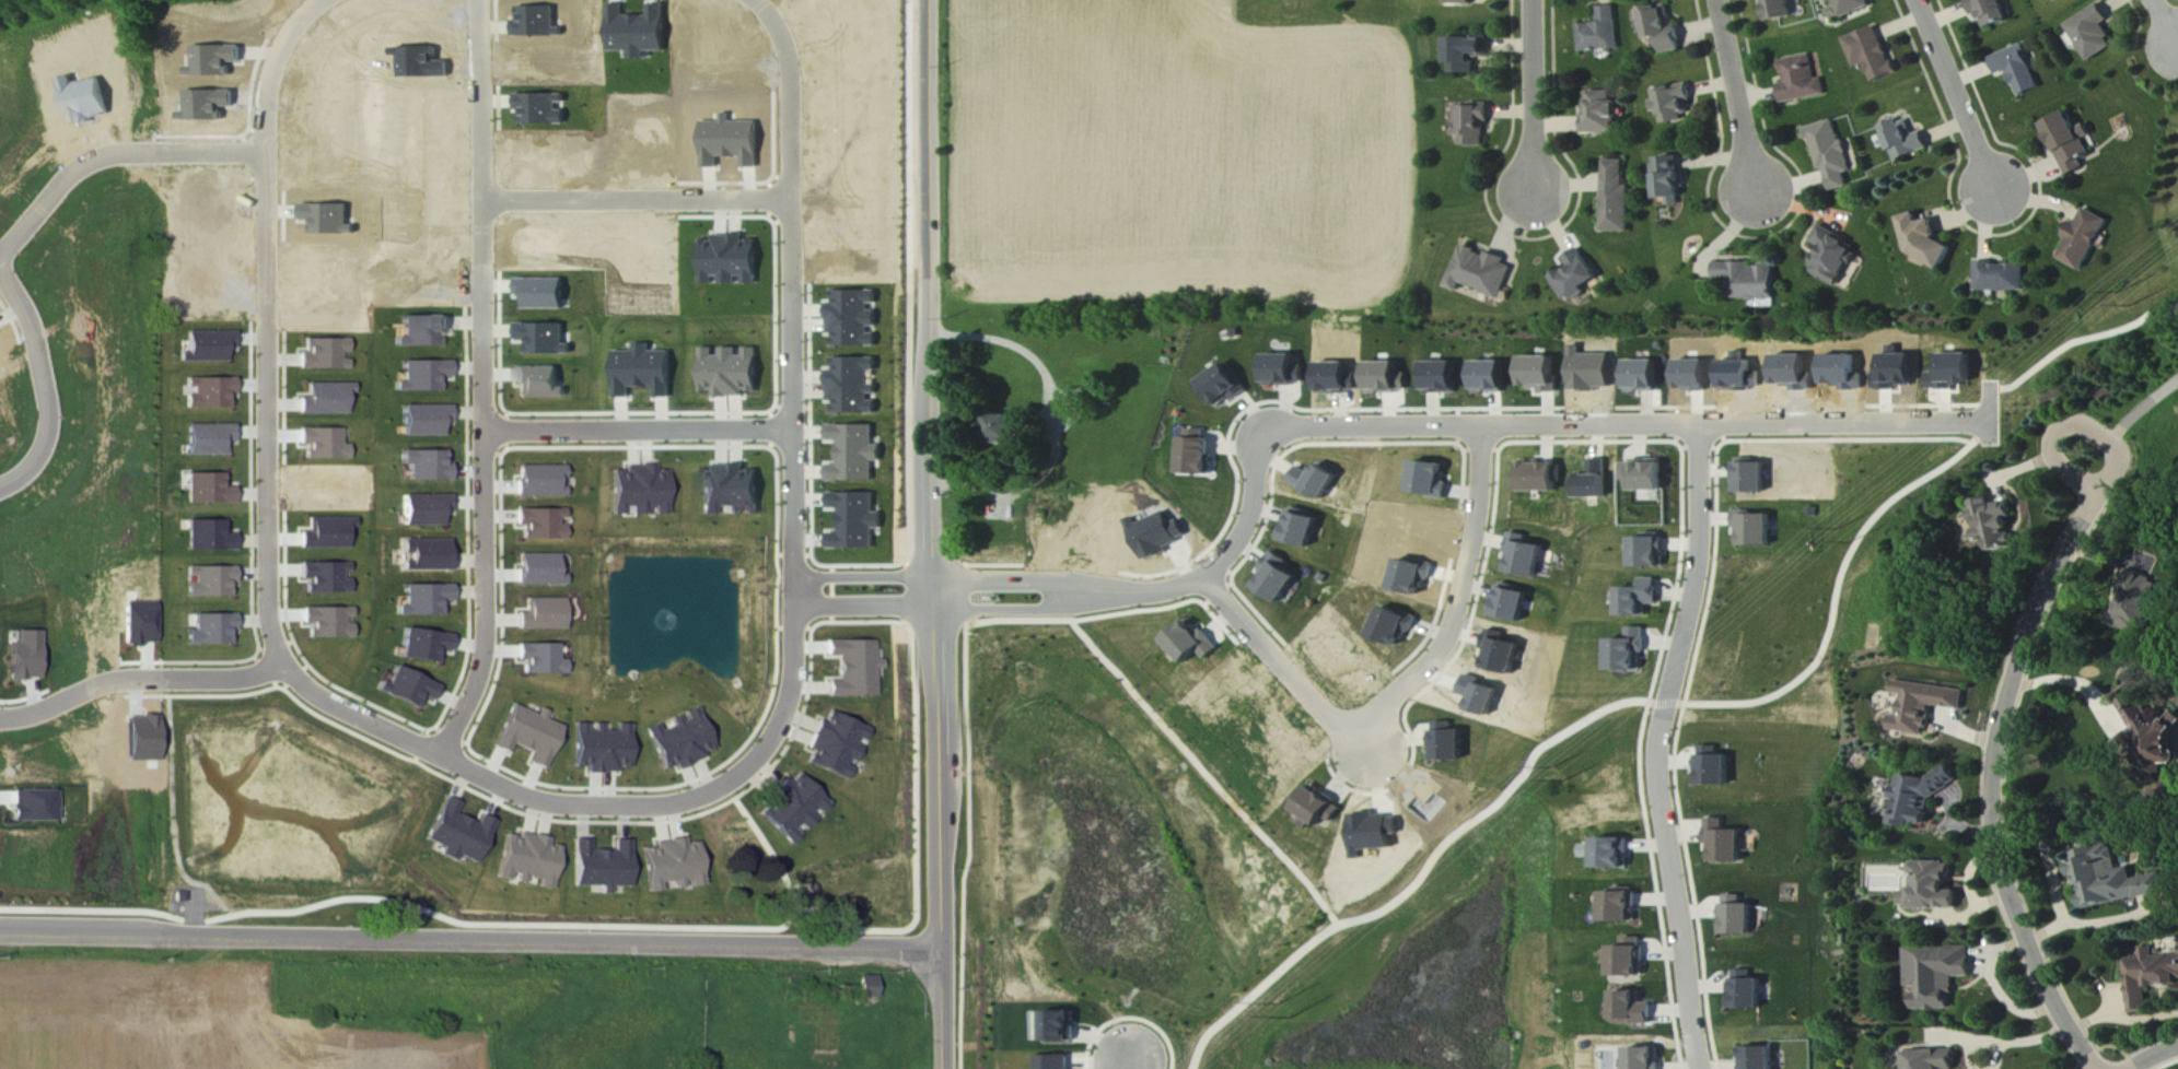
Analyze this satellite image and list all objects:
building: (2054, 0)
building: (1459, 2)
building: (1852, 7)
building: (1780, 10)
building: (1990, 11)
road: (2164, 20)
building: (1658, 28)
building: (1600, 32)
building: (2093, 33)
building: (1872, 54)
building: (2018, 70)
building: (1802, 80)
road: (1736, 96)
road: (1956, 96)
road: (1533, 97)
building: (1674, 103)
building: (1599, 114)
building: (1471, 125)
building: (1907, 140)
building: (2072, 142)
building: (1831, 154)
road: (114, 155)
building: (1670, 181)
building: (1617, 198)
road: (640, 201)
road: (795, 208)
building: (2086, 239)
building: (1927, 242)
building: (1832, 257)
building: (1482, 273)
building: (1576, 275)
building: (2003, 277)
building: (1748, 281)
power tower: (2122, 293)
building: (541, 294)
power tower: (2134, 306)
road: (267, 325)
building: (543, 339)
building: (642, 371)
building: (1284, 371)
building: (729, 372)
building: (1954, 373)
building: (1539, 374)
building: (1642, 376)
building: (1384, 378)
building: (1440, 378)
road: (484, 383)
building: (539, 384)
building: (852, 386)
building: (1223, 386)
road: (44, 387)
building: (209, 393)
road: (2141, 409)
road: (1059, 421)
road: (2070, 423)
building: (1003, 427)
road: (1517, 427)
road: (639, 431)
building: (208, 439)
building: (324, 444)
building: (853, 454)
building: (1198, 454)
building: (426, 467)
road: (2017, 470)
building: (1646, 475)
building: (1539, 478)
building: (1429, 480)
building: (540, 481)
building: (1316, 482)
building: (207, 490)
building: (730, 490)
building: (639, 491)
building: (423, 510)
road: (794, 513)
building: (853, 520)
building: (1994, 524)
building: (540, 525)
building: (1301, 529)
building: (1756, 530)
power tower: (1840, 530)
road: (933, 534)
power tower: (1853, 544)
building: (1650, 553)
building: (1525, 556)
building: (538, 569)
building: (327, 578)
road: (862, 578)
building: (1278, 579)
building: (208, 582)
road: (1152, 594)
building: (1640, 599)
building: (1512, 604)
road: (863, 608)
building: (541, 615)
building: (1395, 629)
building: (210, 631)
building: (1193, 643)
building: (422, 645)
building: (1630, 651)
building: (24, 657)
building: (539, 659)
building: (853, 668)
road: (139, 679)
road: (2070, 681)
road: (1407, 685)
building: (405, 689)
building: (1923, 706)
building: (2153, 729)
building: (528, 733)
road: (1372, 738)
building: (680, 741)
building: (1452, 743)
building: (835, 745)
building: (601, 748)
road: (1659, 748)
power tower: (1558, 768)
building: (1714, 768)
power tower: (1570, 782)
road: (1993, 782)
building: (1919, 797)
building: (33, 806)
road: (594, 806)
building: (792, 808)
building: (1319, 808)
building: (456, 834)
building: (1724, 844)
building: (1614, 855)
building: (526, 860)
building: (669, 865)
building: (598, 867)
building: (2112, 879)
building: (1932, 889)
building: (1622, 908)
building: (1736, 917)
road: (467, 945)
building: (1632, 960)
road: (1983, 960)
building: (1937, 975)
building: (2150, 977)
road: (1998, 986)
building: (865, 987)
building: (1748, 992)
power tower: (1277, 1006)
building: (1637, 1009)
power tower: (1290, 1019)
road: (1999, 1042)
road: (1985, 1049)
road: (2154, 1056)
building: (1760, 1058)
building: (1647, 1059)
building: (1933, 1060)
road: (1130, 1067)

